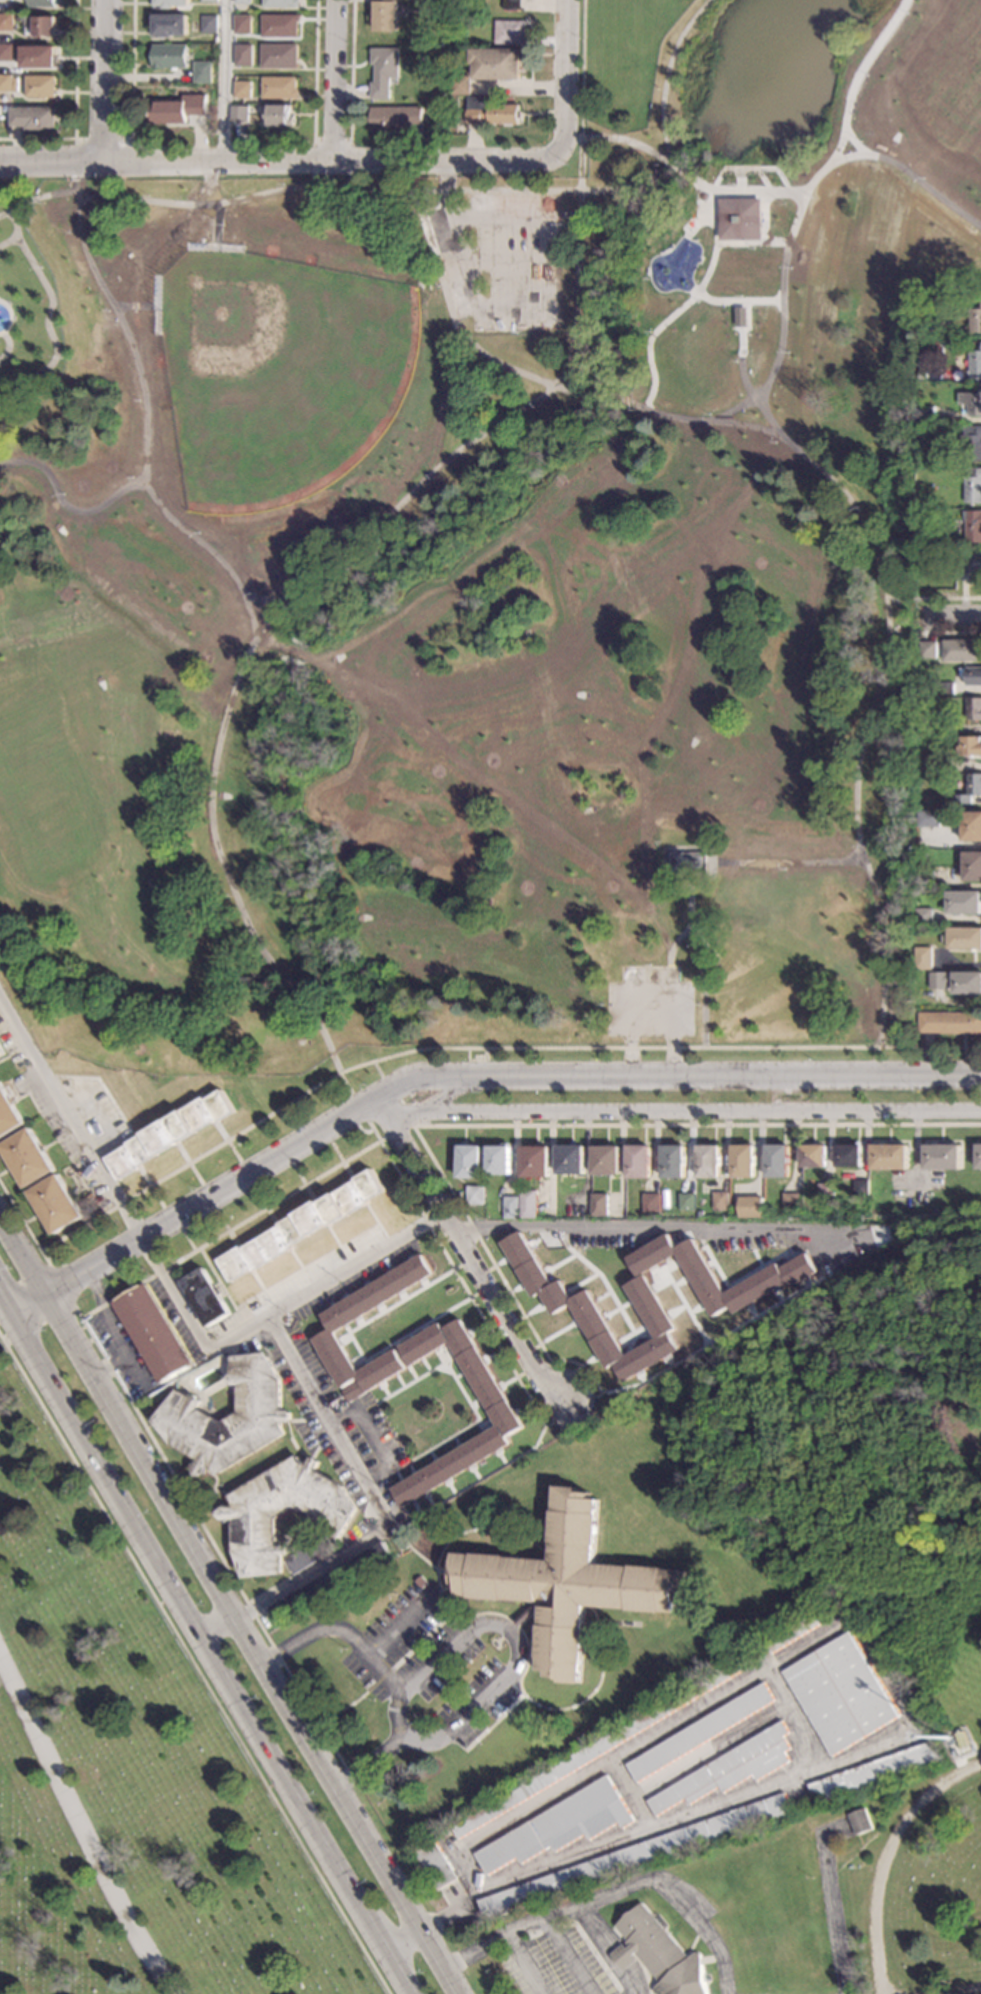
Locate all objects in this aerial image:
building: (207, 1)
building: (240, 2)
building: (42, 3)
building: (169, 3)
building: (280, 3)
building: (512, 5)
building: (385, 15)
building: (6, 22)
building: (206, 24)
building: (42, 25)
building: (240, 25)
building: (278, 25)
building: (168, 26)
building: (509, 32)
building: (6, 52)
building: (241, 55)
building: (167, 56)
building: (277, 56)
building: (38, 57)
building: (496, 63)
road: (130, 69)
road: (583, 69)
road: (313, 70)
road: (350, 70)
building: (383, 71)
building: (200, 72)
road: (570, 76)
road: (667, 76)
road: (105, 80)
road: (222, 80)
road: (336, 80)
building: (6, 83)
building: (458, 86)
building: (40, 87)
building: (278, 88)
building: (241, 90)
road: (849, 100)
road: (74, 106)
building: (176, 109)
building: (489, 112)
building: (238, 114)
building: (278, 115)
building: (396, 116)
building: (32, 118)
road: (74, 139)
road: (331, 141)
road: (582, 147)
road: (51, 161)
road: (334, 161)
road: (331, 184)
road: (628, 188)
road: (928, 190)
road: (498, 193)
building: (741, 218)
road: (456, 237)
road: (8, 243)
road: (749, 244)
parking lot: (501, 260)
road: (784, 278)
road: (738, 301)
road: (680, 307)
road: (9, 317)
road: (50, 318)
building: (975, 320)
road: (9, 346)
building: (974, 362)
park: (279, 376)
road: (604, 400)
building: (971, 403)
road: (764, 413)
building: (925, 415)
road: (144, 432)
building: (970, 443)
building: (972, 485)
building: (919, 498)
road: (67, 511)
building: (973, 526)
building: (968, 567)
park: (486, 577)
road: (948, 598)
road: (264, 600)
road: (901, 600)
road: (953, 615)
road: (925, 627)
road: (953, 632)
building: (927, 650)
building: (961, 650)
building: (971, 675)
building: (945, 688)
building: (973, 709)
building: (929, 726)
building: (970, 746)
building: (927, 763)
building: (970, 789)
building: (923, 801)
building: (927, 819)
building: (971, 825)
building: (688, 863)
building: (972, 866)
building: (920, 872)
road: (689, 901)
building: (964, 903)
building: (923, 916)
building: (964, 938)
road: (703, 949)
building: (922, 959)
building: (956, 981)
road: (649, 990)
parking lot: (649, 1002)
building: (949, 1023)
road: (328, 1046)
road: (444, 1047)
building: (1, 1051)
road: (377, 1068)
road: (675, 1077)
road: (441, 1095)
road: (360, 1107)
road: (406, 1112)
building: (8, 1113)
road: (679, 1113)
road: (696, 1125)
building: (170, 1134)
road: (225, 1142)
building: (812, 1156)
building: (847, 1156)
building: (940, 1156)
building: (977, 1156)
building: (28, 1157)
building: (887, 1157)
building: (498, 1160)
building: (571, 1160)
building: (605, 1160)
building: (673, 1160)
building: (536, 1161)
building: (639, 1161)
building: (706, 1161)
building: (741, 1161)
building: (776, 1161)
road: (342, 1162)
building: (469, 1162)
road: (189, 1165)
road: (397, 1172)
road: (245, 1174)
road: (303, 1183)
road: (151, 1188)
building: (860, 1189)
building: (824, 1193)
road: (211, 1194)
building: (474, 1195)
road: (208, 1197)
building: (719, 1201)
building: (685, 1202)
building: (789, 1202)
building: (56, 1204)
building: (528, 1204)
building: (649, 1204)
building: (597, 1205)
road: (264, 1207)
building: (511, 1208)
building: (749, 1208)
road: (171, 1218)
road: (232, 1227)
building: (301, 1227)
road: (371, 1227)
road: (226, 1229)
road: (646, 1230)
road: (698, 1236)
road: (562, 1238)
road: (187, 1240)
road: (751, 1240)
road: (790, 1243)
road: (313, 1244)
road: (339, 1246)
road: (24, 1247)
road: (469, 1254)
road: (757, 1257)
road: (44, 1258)
road: (824, 1258)
road: (301, 1269)
road: (498, 1272)
building: (786, 1274)
road: (746, 1275)
road: (268, 1287)
road: (172, 1290)
road: (610, 1292)
building: (204, 1298)
road: (28, 1299)
road: (4, 1302)
road: (684, 1304)
building: (252, 1305)
building: (601, 1313)
road: (62, 1315)
building: (340, 1321)
road: (109, 1324)
building: (153, 1334)
road: (356, 1346)
parking lot: (124, 1353)
road: (687, 1355)
road: (227, 1356)
road: (406, 1360)
road: (209, 1364)
road: (132, 1369)
parking lot: (316, 1372)
building: (354, 1390)
road: (463, 1390)
building: (495, 1394)
road: (530, 1398)
road: (367, 1408)
road: (227, 1414)
road: (312, 1415)
building: (229, 1418)
road: (297, 1420)
road: (373, 1439)
road: (326, 1440)
road: (315, 1452)
road: (401, 1466)
road: (215, 1489)
road: (200, 1496)
building: (284, 1513)
road: (380, 1514)
road: (465, 1531)
road: (192, 1536)
road: (213, 1543)
building: (311, 1556)
building: (369, 1558)
road: (426, 1560)
road: (454, 1565)
road: (288, 1566)
park: (913, 1571)
building: (569, 1583)
building: (410, 1596)
parking lot: (393, 1615)
building: (808, 1623)
road: (404, 1627)
road: (344, 1630)
road: (420, 1641)
parking lot: (422, 1643)
road: (208, 1651)
road: (193, 1665)
road: (393, 1671)
parking lot: (450, 1671)
road: (511, 1672)
parking lot: (367, 1678)
road: (380, 1679)
parking lot: (468, 1692)
building: (842, 1692)
road: (531, 1702)
road: (906, 1706)
road: (344, 1708)
parking lot: (484, 1716)
road: (492, 1722)
building: (700, 1732)
building: (961, 1740)
building: (603, 1744)
building: (730, 1768)
building: (875, 1771)
park: (128, 1775)
building: (859, 1820)
building: (559, 1825)
road: (78, 1831)
building: (633, 1855)
road: (887, 1857)
building: (437, 1865)
road: (393, 1890)
road: (609, 1897)
road: (833, 1901)
road: (602, 1952)
building: (659, 1954)
road: (566, 1957)
parking lot: (587, 1963)
road: (522, 1965)
parking lot: (550, 1968)
parking lot: (516, 1974)

